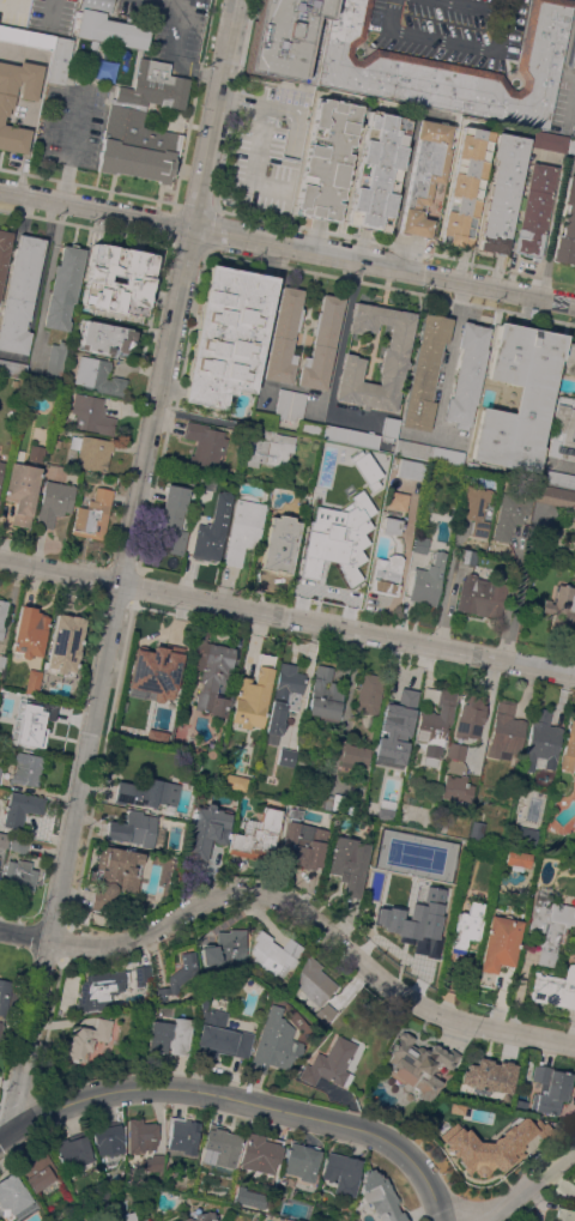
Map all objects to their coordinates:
building: (29, 0)
road: (476, 6)
building: (10, 8)
building: (107, 25)
parking lot: (172, 25)
building: (26, 36)
building: (289, 40)
road: (452, 41)
road: (175, 53)
building: (573, 53)
road: (22, 55)
building: (59, 59)
building: (449, 67)
road: (276, 103)
building: (6, 104)
road: (266, 107)
building: (125, 117)
parking lot: (73, 122)
road: (260, 138)
building: (549, 141)
building: (571, 145)
building: (327, 158)
building: (377, 170)
building: (425, 173)
building: (465, 186)
building: (502, 192)
building: (533, 210)
building: (567, 226)
road: (286, 246)
building: (4, 250)
road: (56, 270)
building: (137, 279)
building: (63, 286)
building: (19, 294)
building: (226, 334)
building: (284, 336)
building: (103, 337)
building: (321, 344)
building: (394, 356)
road: (448, 357)
building: (569, 358)
building: (54, 362)
building: (12, 368)
building: (425, 371)
building: (467, 374)
building: (98, 376)
building: (519, 397)
building: (283, 403)
building: (296, 405)
building: (91, 413)
building: (262, 418)
building: (389, 428)
building: (310, 429)
building: (563, 429)
building: (350, 436)
building: (55, 443)
building: (205, 443)
building: (315, 445)
building: (270, 448)
building: (413, 449)
building: (91, 452)
building: (36, 453)
building: (448, 455)
building: (410, 469)
building: (1, 470)
building: (355, 472)
building: (557, 478)
building: (207, 482)
building: (22, 491)
building: (555, 495)
building: (53, 502)
building: (476, 508)
building: (509, 514)
building: (92, 515)
building: (170, 524)
building: (391, 526)
building: (212, 528)
building: (243, 530)
building: (374, 530)
building: (279, 544)
building: (420, 544)
building: (466, 557)
road: (122, 564)
building: (335, 566)
building: (386, 574)
building: (426, 580)
building: (479, 596)
building: (562, 606)
building: (2, 615)
road: (286, 622)
building: (29, 633)
building: (65, 643)
building: (1, 661)
building: (155, 671)
building: (211, 673)
building: (32, 682)
building: (369, 693)
building: (253, 694)
building: (323, 695)
building: (283, 699)
building: (468, 715)
building: (32, 724)
building: (435, 725)
building: (504, 730)
building: (156, 735)
building: (541, 739)
building: (388, 742)
building: (568, 748)
building: (455, 750)
building: (352, 755)
building: (286, 756)
building: (0, 768)
building: (26, 768)
building: (297, 775)
building: (235, 781)
building: (456, 787)
building: (147, 792)
building: (373, 793)
building: (328, 802)
building: (338, 802)
building: (404, 806)
building: (22, 808)
building: (135, 828)
building: (206, 830)
building: (258, 835)
building: (523, 835)
building: (4, 840)
building: (18, 842)
building: (303, 845)
building: (519, 858)
building: (347, 864)
building: (116, 866)
building: (19, 875)
building: (444, 896)
road: (298, 909)
road: (259, 918)
building: (549, 918)
building: (406, 927)
building: (437, 927)
building: (465, 931)
building: (498, 947)
building: (224, 949)
building: (273, 954)
building: (141, 974)
building: (177, 975)
building: (313, 980)
building: (557, 989)
building: (101, 990)
building: (4, 996)
building: (201, 1003)
building: (323, 1013)
building: (0, 1020)
building: (0, 1027)
building: (169, 1035)
building: (219, 1036)
building: (87, 1039)
building: (273, 1042)
building: (331, 1064)
building: (418, 1065)
building: (488, 1076)
building: (550, 1088)
building: (520, 1104)
road: (241, 1105)
building: (141, 1135)
building: (182, 1135)
building: (109, 1138)
building: (492, 1143)
building: (222, 1144)
building: (74, 1150)
building: (260, 1153)
building: (153, 1161)
building: (301, 1162)
building: (38, 1171)
building: (341, 1175)
road: (528, 1192)
building: (13, 1193)
building: (248, 1197)
building: (380, 1197)
building: (564, 1214)
building: (200, 1216)
building: (125, 1217)

